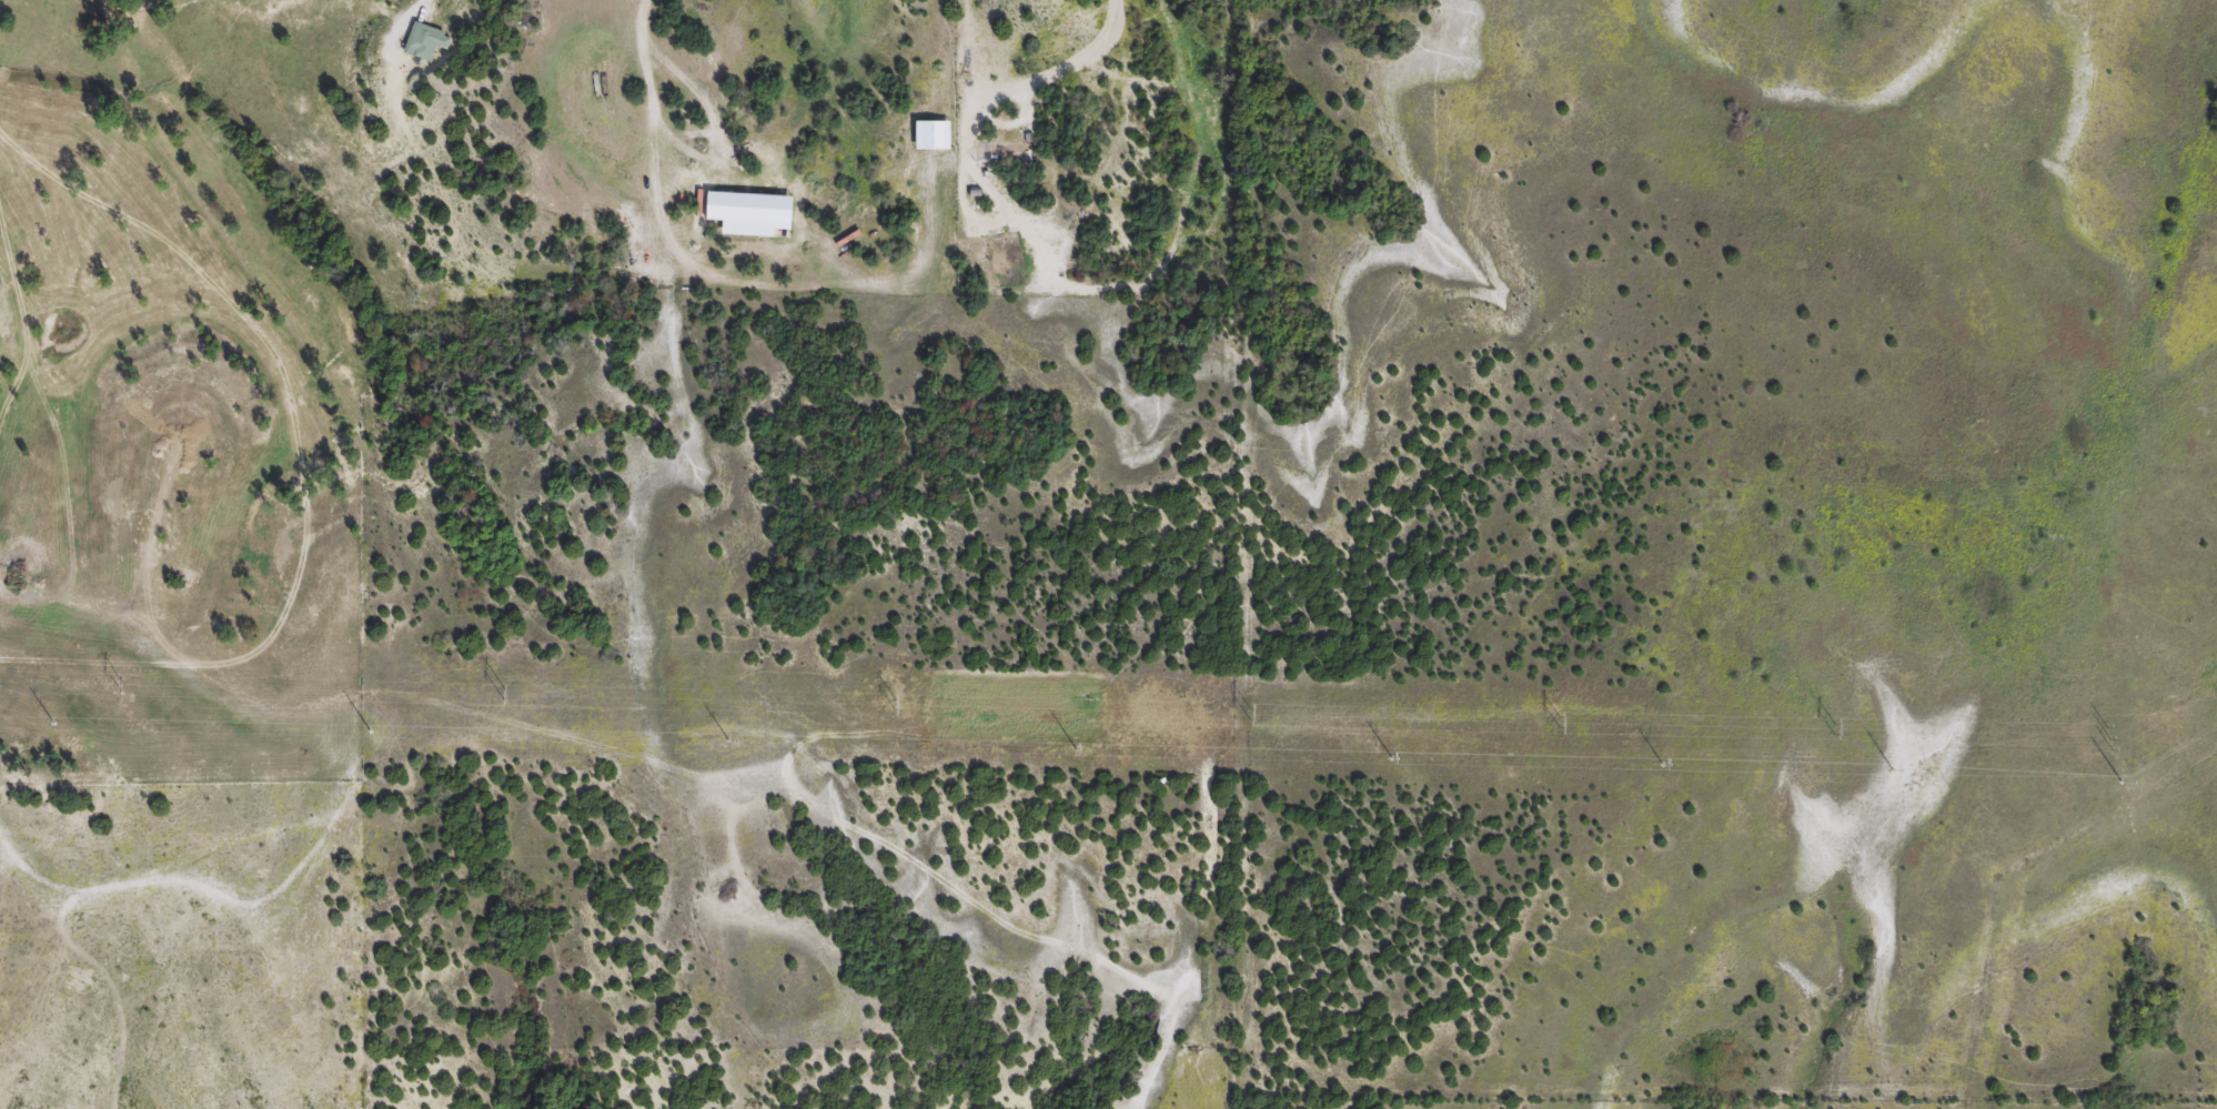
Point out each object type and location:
building: (426, 42)
road: (1071, 62)
road: (653, 151)
building: (1001, 153)

